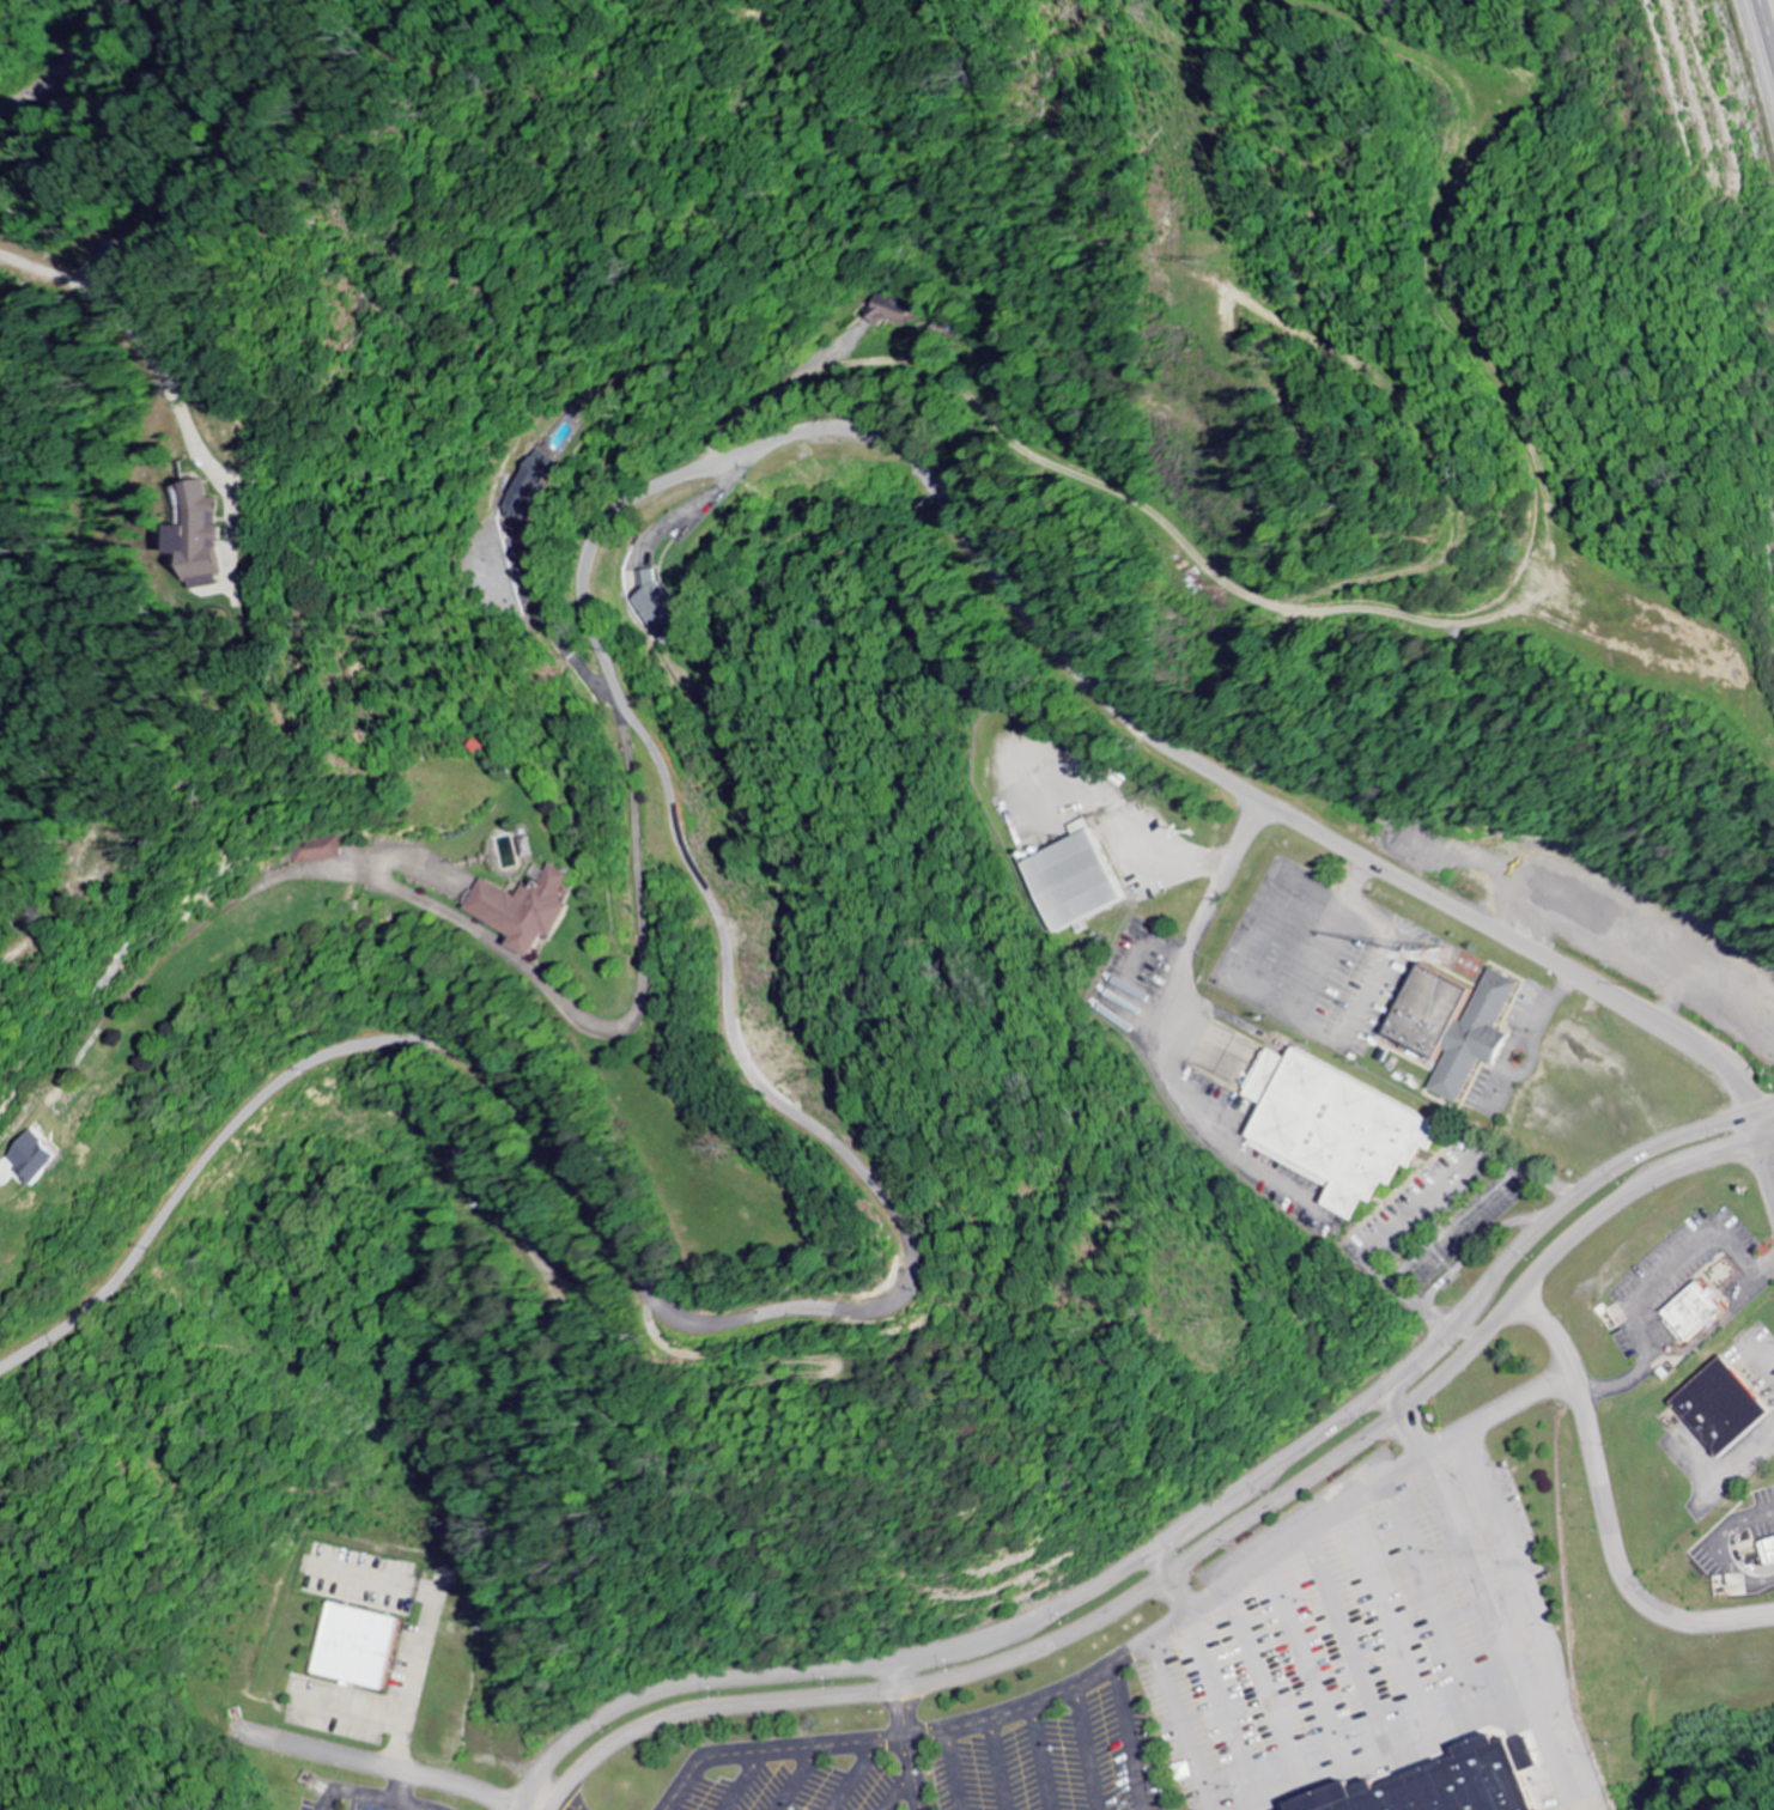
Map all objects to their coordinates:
road: (1764, 31)
power tower: (1209, 263)
building: (893, 310)
building: (535, 490)
building: (215, 542)
road: (668, 792)
building: (317, 851)
building: (535, 910)
road: (1317, 940)
building: (1462, 1027)
road: (1193, 1109)
building: (1344, 1129)
building: (40, 1158)
road: (1767, 1180)
building: (1695, 1307)
power tower: (1225, 1319)
building: (1721, 1404)
road: (1605, 1516)
road: (1175, 1533)
building: (1768, 1549)
road: (1203, 1561)
building: (354, 1642)
power tower: (1599, 1750)
building: (1446, 1779)

